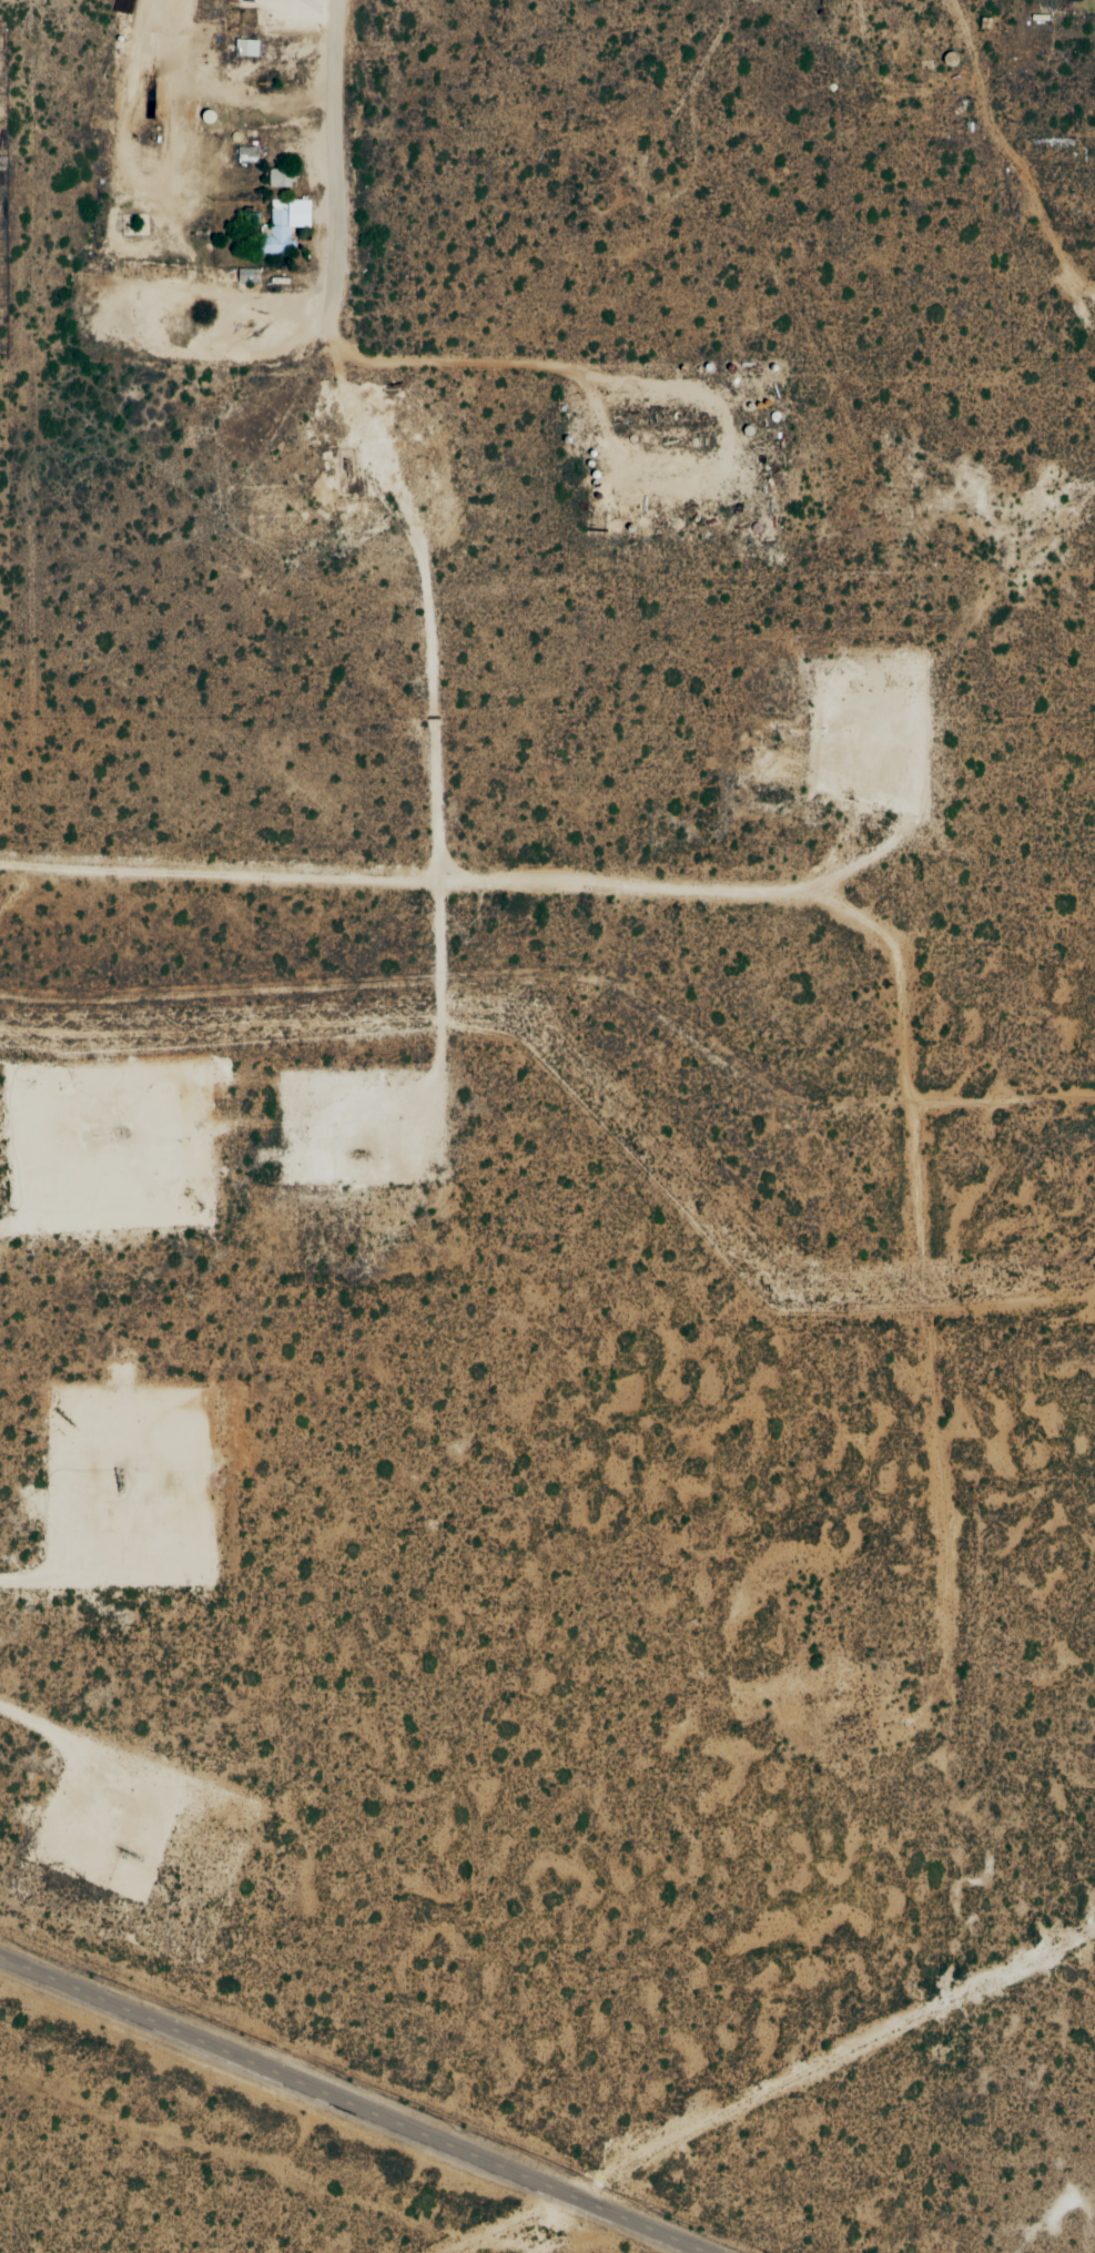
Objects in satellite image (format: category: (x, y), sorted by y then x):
building: (245, 49)
building: (246, 155)
road: (334, 155)
road: (986, 175)
building: (280, 179)
building: (284, 226)
road: (805, 895)
road: (354, 2105)

